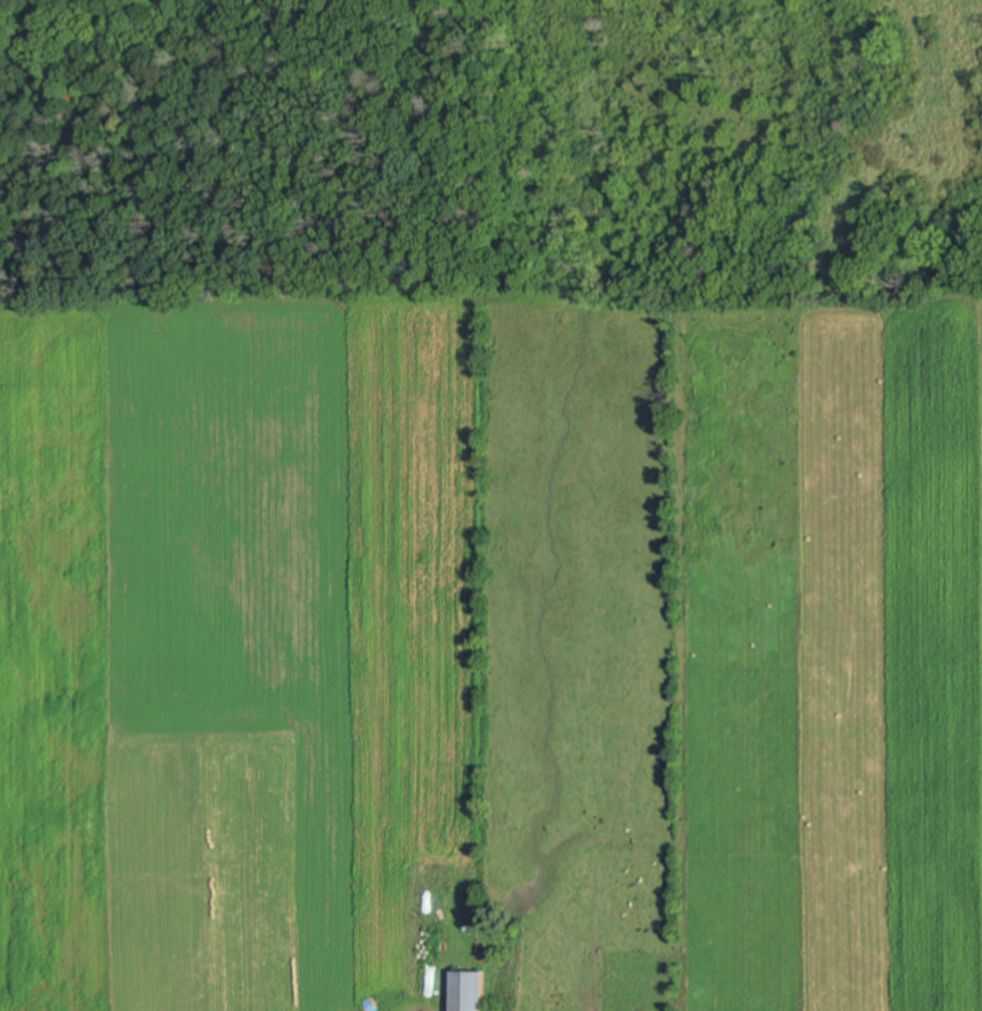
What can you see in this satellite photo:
building: (464, 992)

